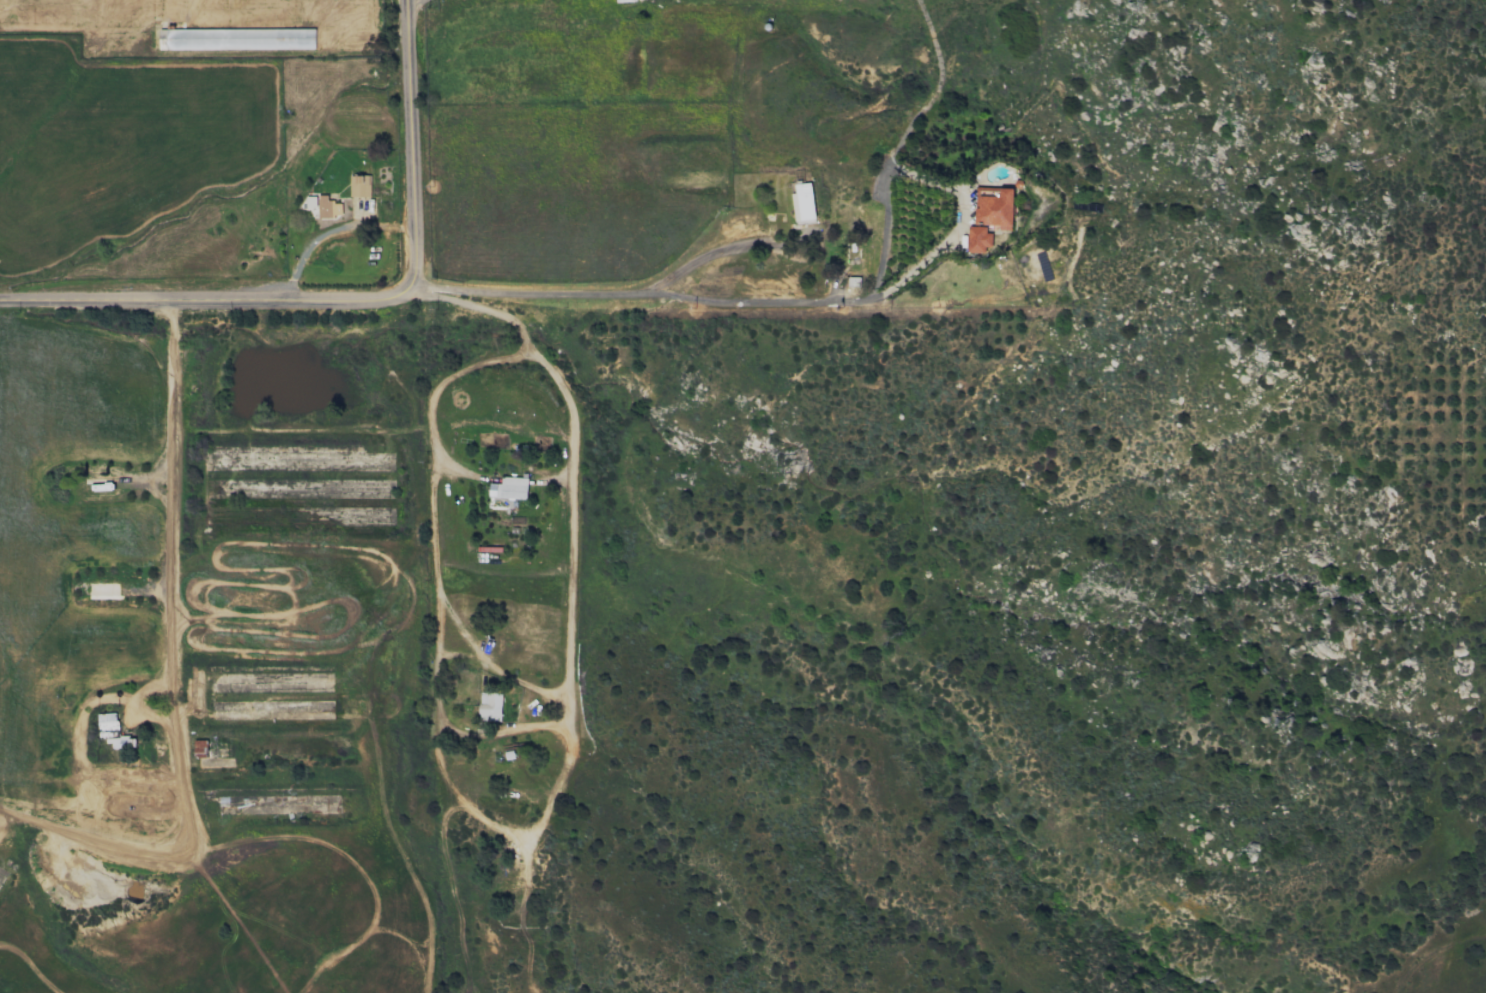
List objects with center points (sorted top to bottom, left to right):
building: (625, 0)
road: (409, 146)
building: (359, 185)
building: (802, 201)
building: (328, 207)
building: (994, 207)
road: (958, 223)
road: (328, 230)
building: (978, 238)
road: (724, 249)
road: (879, 260)
road: (378, 294)
building: (509, 488)
road: (165, 672)
road: (562, 687)
building: (489, 706)
building: (112, 731)
road: (468, 804)

